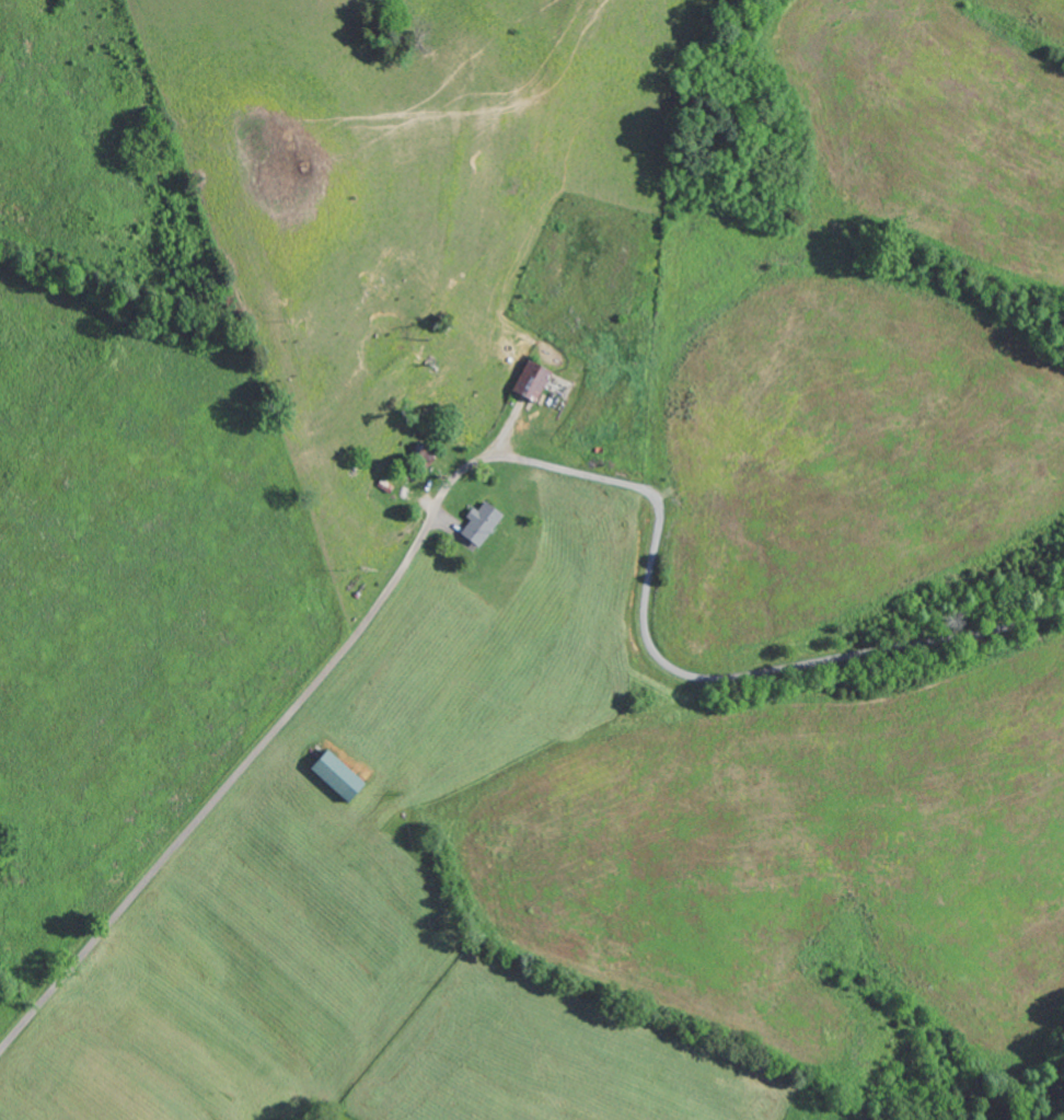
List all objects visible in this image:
building: (531, 380)
building: (481, 522)
road: (765, 671)
road: (300, 701)
building: (337, 775)

